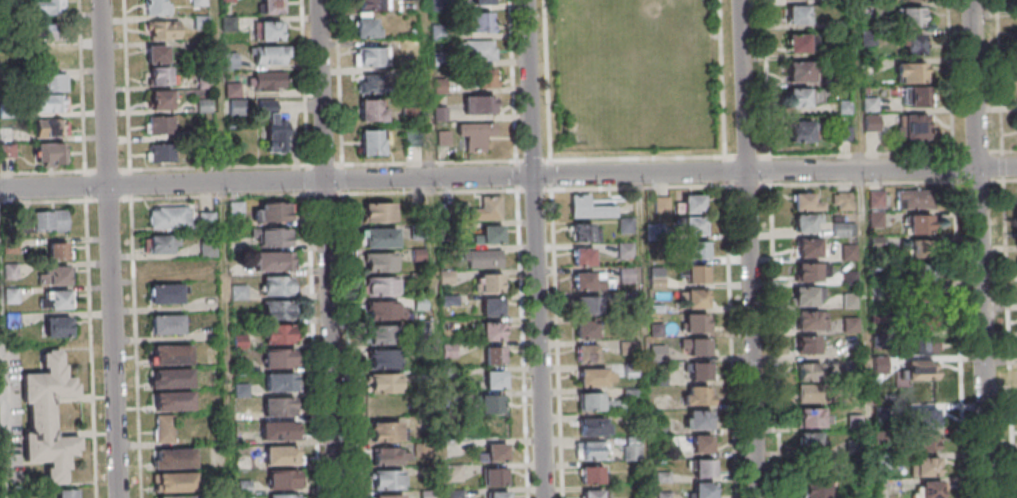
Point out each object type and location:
building: (227, 0)
building: (481, 1)
building: (371, 5)
building: (272, 6)
building: (157, 7)
building: (50, 8)
building: (798, 14)
building: (911, 16)
building: (480, 21)
building: (367, 26)
building: (161, 29)
building: (271, 30)
building: (44, 32)
building: (799, 43)
building: (912, 43)
building: (478, 50)
building: (157, 54)
building: (270, 54)
building: (370, 56)
building: (230, 59)
building: (800, 71)
building: (910, 72)
building: (161, 75)
building: (478, 78)
road: (770, 78)
building: (267, 80)
building: (53, 82)
building: (370, 83)
road: (130, 85)
building: (914, 96)
building: (798, 97)
building: (161, 99)
building: (50, 103)
building: (478, 104)
building: (371, 110)
building: (871, 123)
building: (159, 125)
building: (272, 127)
building: (915, 127)
building: (51, 128)
building: (801, 130)
building: (474, 134)
building: (7, 142)
building: (372, 142)
building: (51, 153)
building: (161, 153)
road: (536, 162)
road: (508, 177)
road: (1012, 180)
road: (981, 182)
building: (876, 198)
building: (915, 199)
building: (842, 201)
building: (806, 202)
building: (662, 204)
building: (697, 206)
building: (589, 207)
building: (486, 208)
building: (239, 211)
building: (276, 214)
building: (381, 214)
building: (168, 218)
building: (876, 219)
building: (49, 221)
building: (804, 222)
building: (919, 224)
building: (625, 225)
building: (698, 227)
building: (654, 228)
building: (843, 228)
building: (581, 231)
building: (494, 237)
building: (277, 239)
building: (383, 240)
building: (163, 244)
road: (90, 248)
road: (114, 248)
building: (809, 248)
road: (330, 249)
road: (538, 249)
road: (753, 249)
road: (984, 249)
building: (58, 250)
building: (212, 250)
building: (624, 250)
building: (849, 251)
building: (701, 252)
building: (582, 256)
building: (481, 258)
building: (275, 263)
building: (383, 264)
building: (160, 268)
building: (240, 270)
building: (809, 271)
building: (213, 274)
building: (54, 275)
building: (700, 276)
building: (919, 276)
building: (586, 282)
building: (493, 285)
building: (280, 287)
building: (384, 287)
building: (241, 292)
building: (167, 293)
building: (805, 296)
building: (56, 299)
building: (699, 300)
building: (590, 307)
building: (494, 309)
building: (280, 311)
building: (385, 312)
building: (810, 320)
building: (167, 324)
building: (700, 325)
road: (779, 326)
building: (57, 327)
road: (734, 327)
building: (587, 331)
road: (1012, 331)
building: (494, 333)
road: (138, 334)
building: (282, 335)
building: (385, 336)
road: (963, 340)
building: (921, 341)
building: (243, 343)
building: (808, 344)
building: (627, 347)
building: (703, 348)
building: (589, 355)
building: (173, 356)
building: (496, 358)
building: (281, 360)
building: (387, 361)
building: (244, 366)
building: (809, 371)
building: (923, 371)
building: (704, 372)
building: (426, 376)
building: (591, 379)
building: (174, 380)
building: (497, 382)
building: (283, 384)
building: (387, 384)
building: (246, 390)
building: (813, 392)
road: (4, 394)
building: (702, 397)
building: (453, 400)
building: (176, 403)
building: (591, 404)
building: (493, 406)
building: (282, 408)
building: (813, 417)
building: (50, 418)
building: (925, 418)
building: (697, 419)
building: (591, 429)
building: (167, 430)
building: (282, 432)
building: (388, 433)
building: (926, 441)
building: (810, 443)
building: (705, 445)
building: (631, 447)
building: (426, 450)
building: (593, 452)
building: (499, 454)
building: (284, 457)
building: (391, 457)
building: (177, 460)
building: (247, 463)
building: (924, 466)
building: (708, 470)
building: (457, 472)
building: (593, 477)
building: (498, 479)
building: (286, 480)
building: (390, 481)
building: (178, 484)
building: (814, 485)
building: (247, 487)
building: (931, 489)
building: (708, 491)
building: (66, 493)
building: (429, 494)
building: (457, 494)
building: (595, 495)
building: (174, 496)
building: (500, 496)
building: (245, 497)
building: (287, 497)
building: (391, 497)

